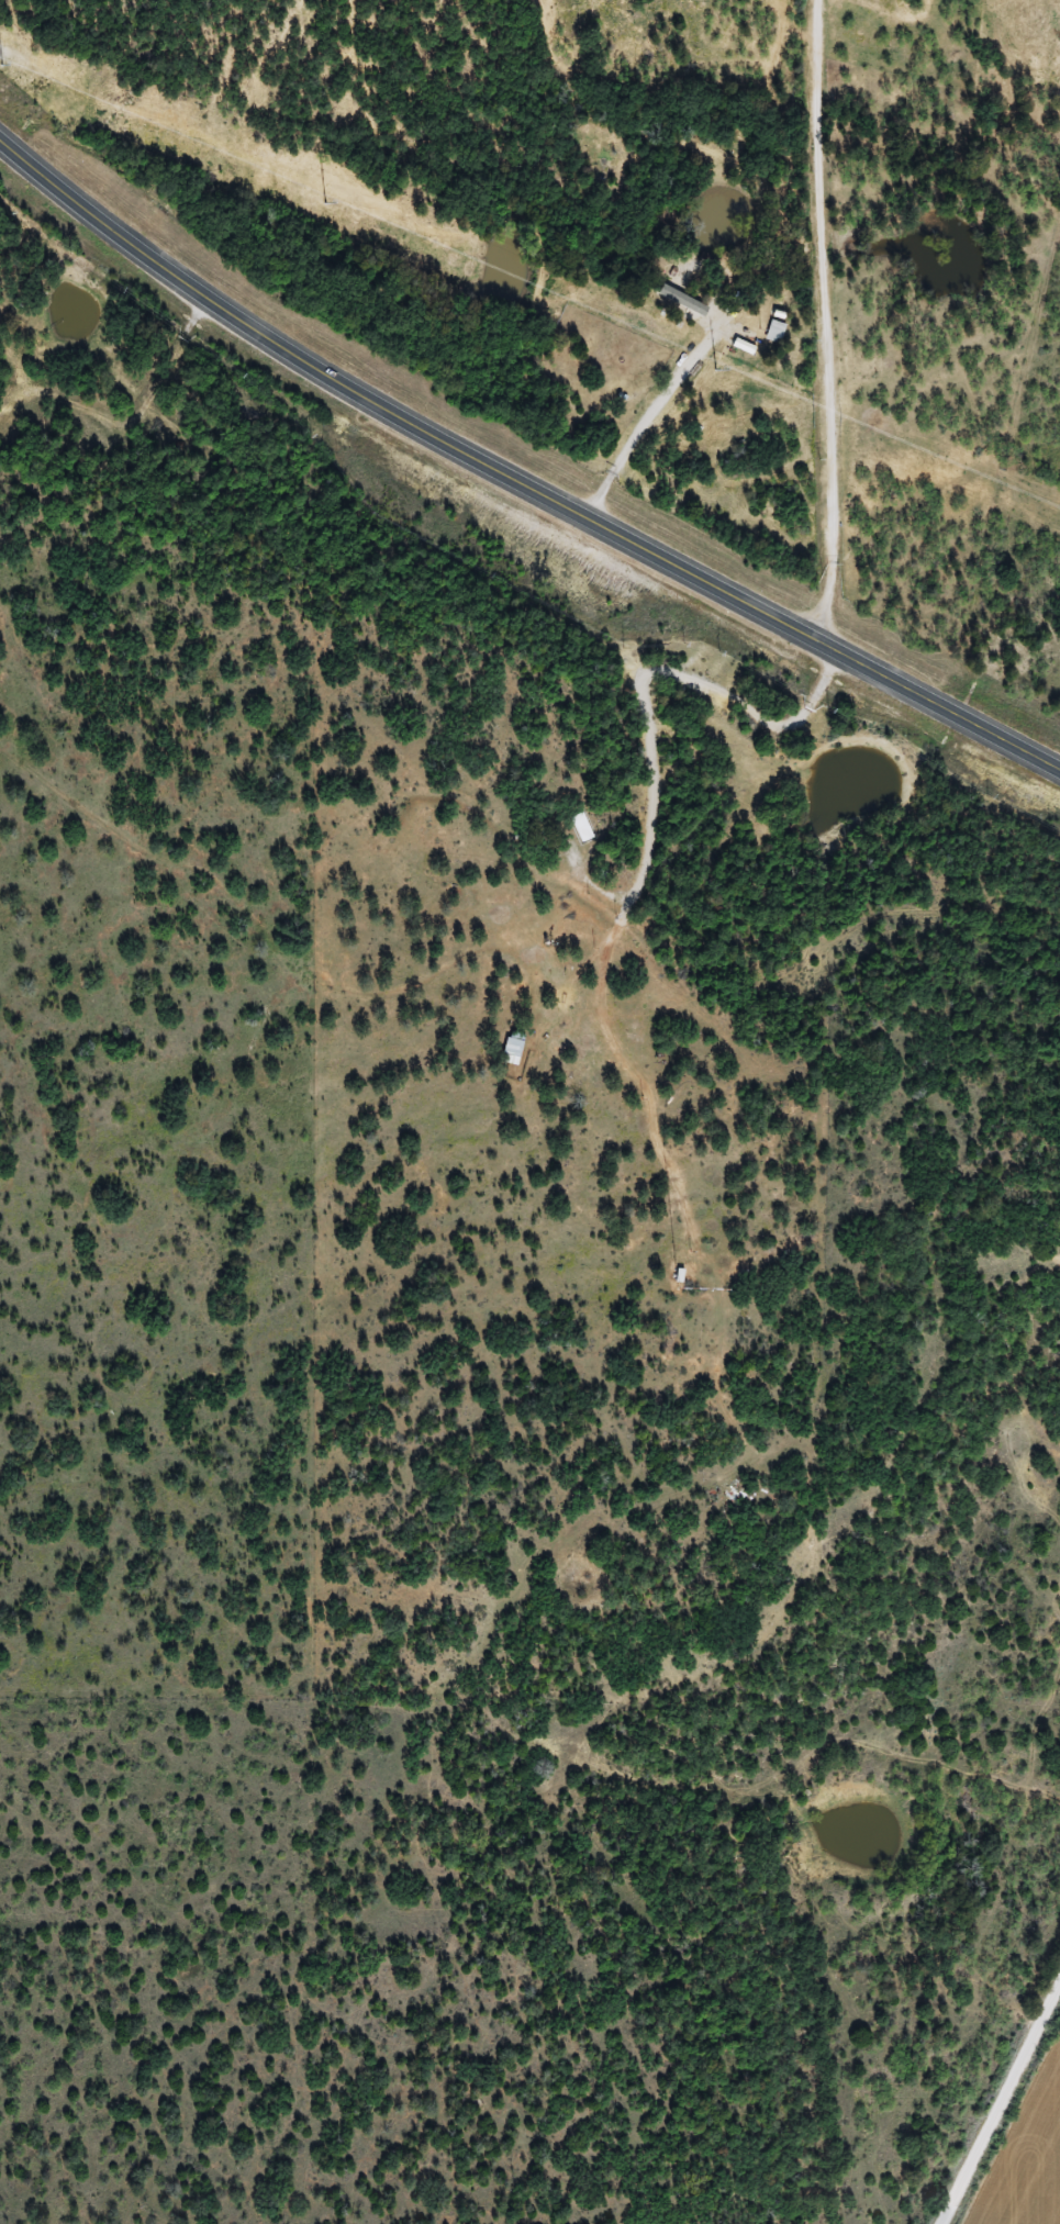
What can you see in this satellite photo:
building: (678, 308)
road: (516, 479)
road: (102, 585)
building: (582, 828)
building: (513, 1049)
road: (1001, 2109)

